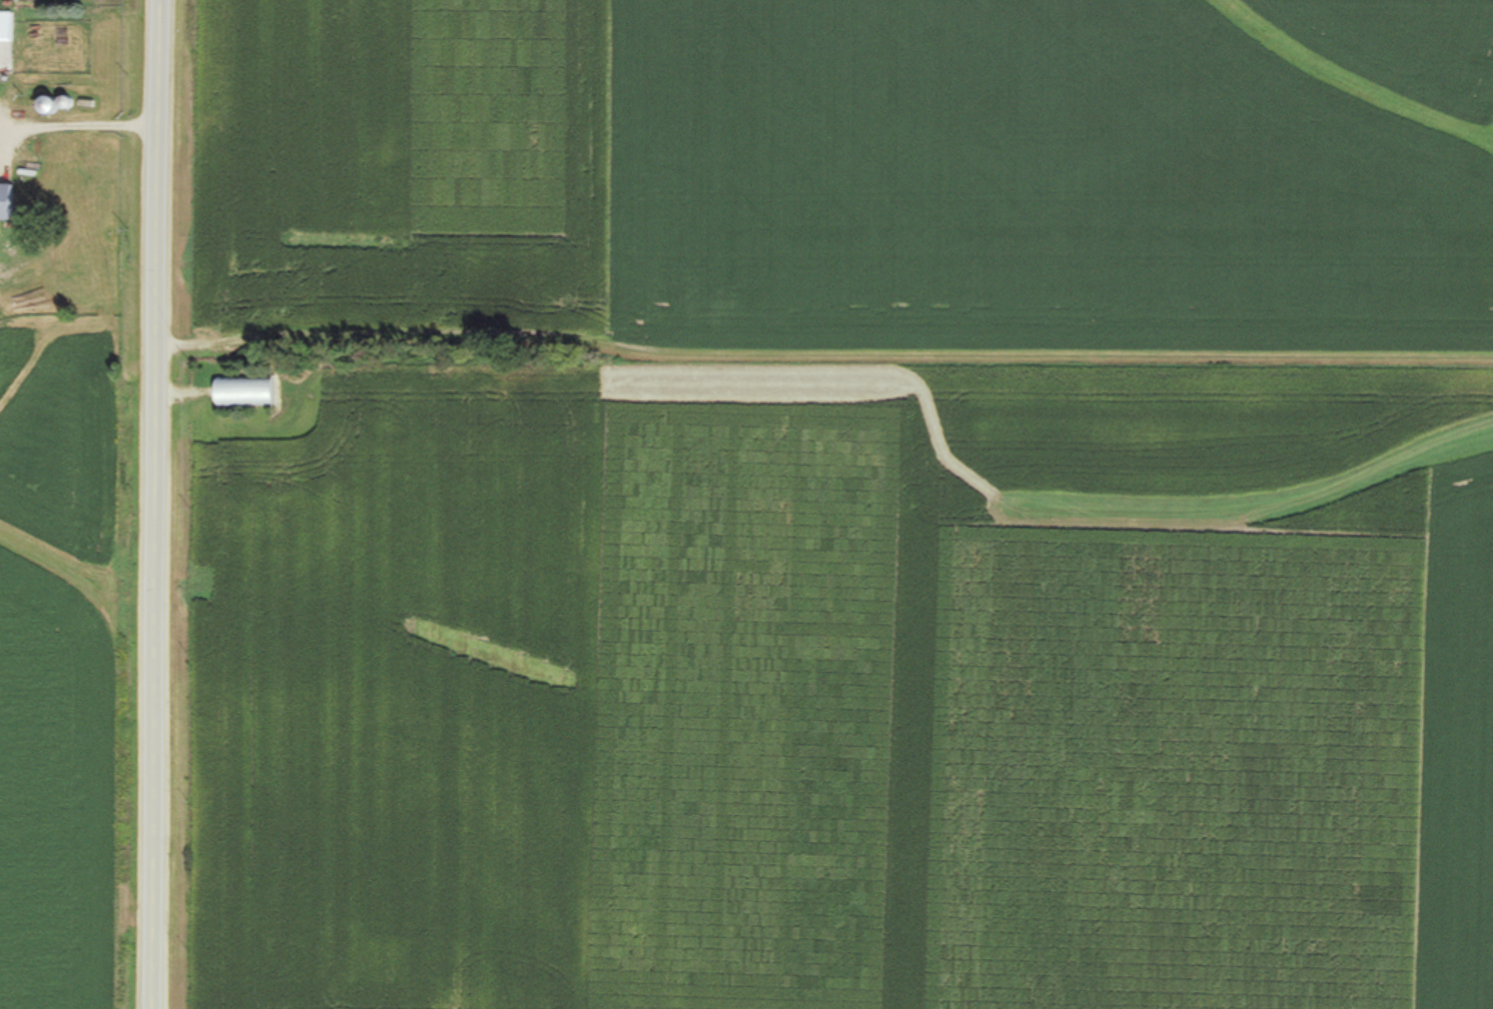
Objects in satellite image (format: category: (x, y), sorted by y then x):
building: (5, 26)
building: (44, 104)
building: (5, 201)
building: (243, 392)
road: (159, 504)

